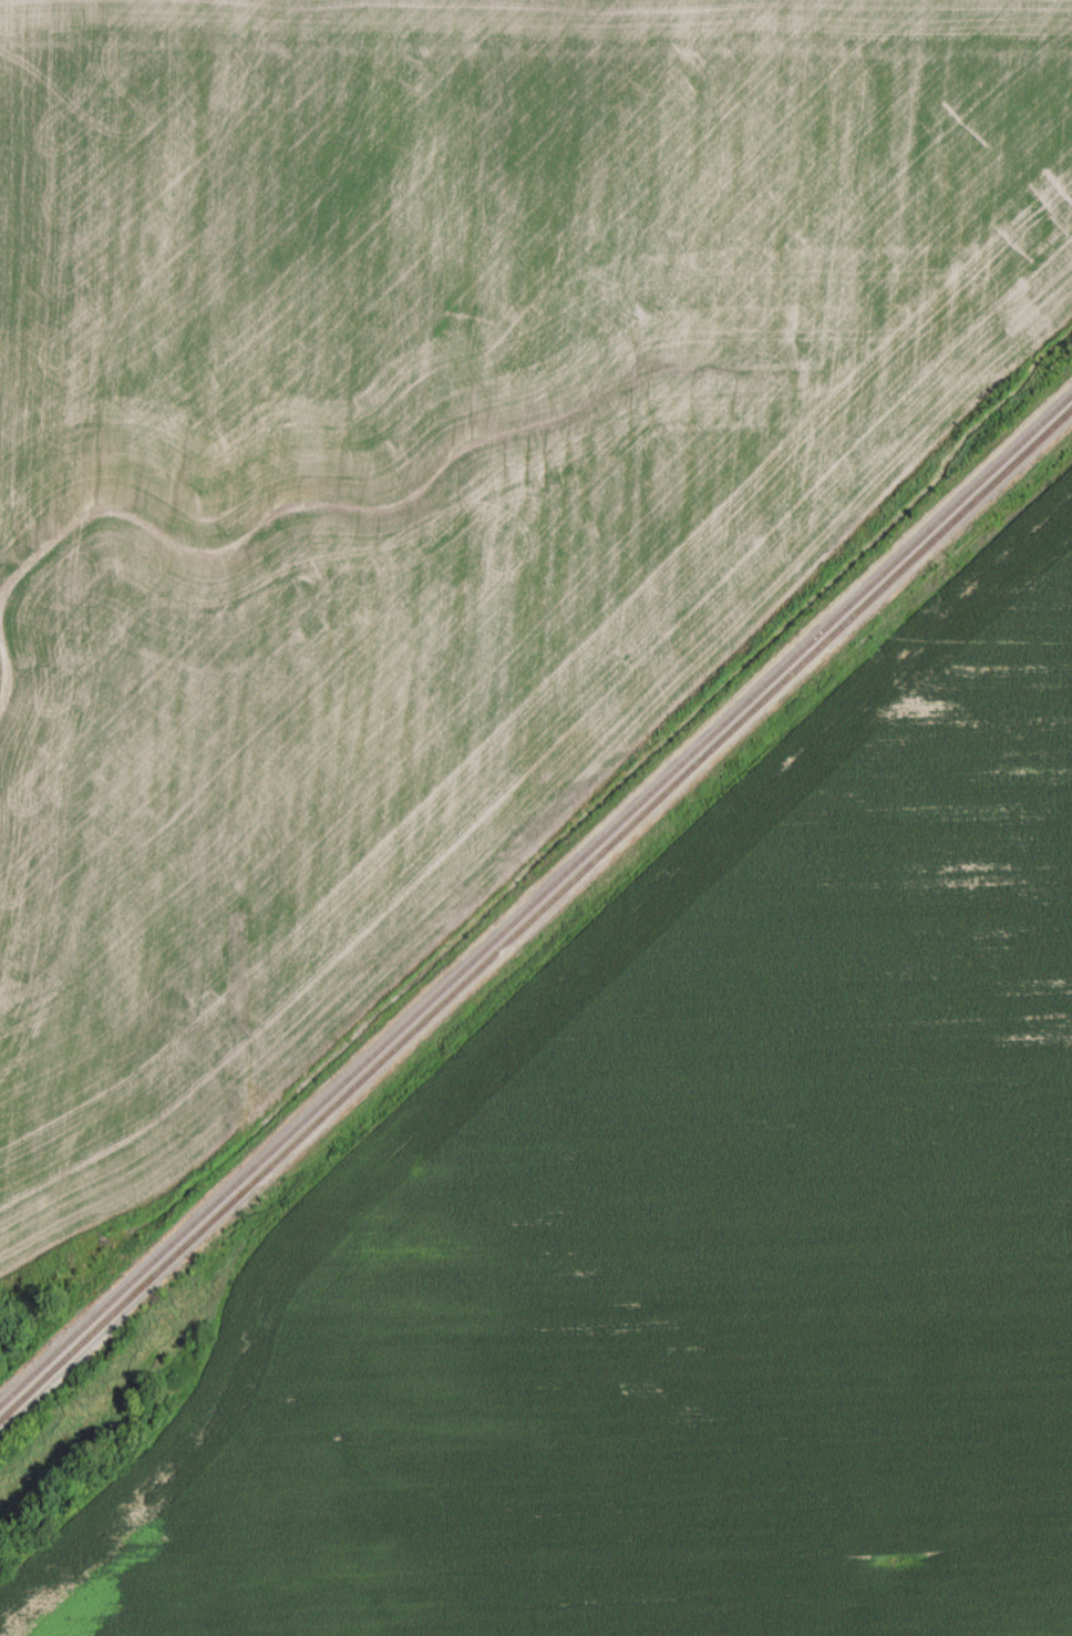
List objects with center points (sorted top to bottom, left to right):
railway: (536, 902)
railway: (534, 913)

